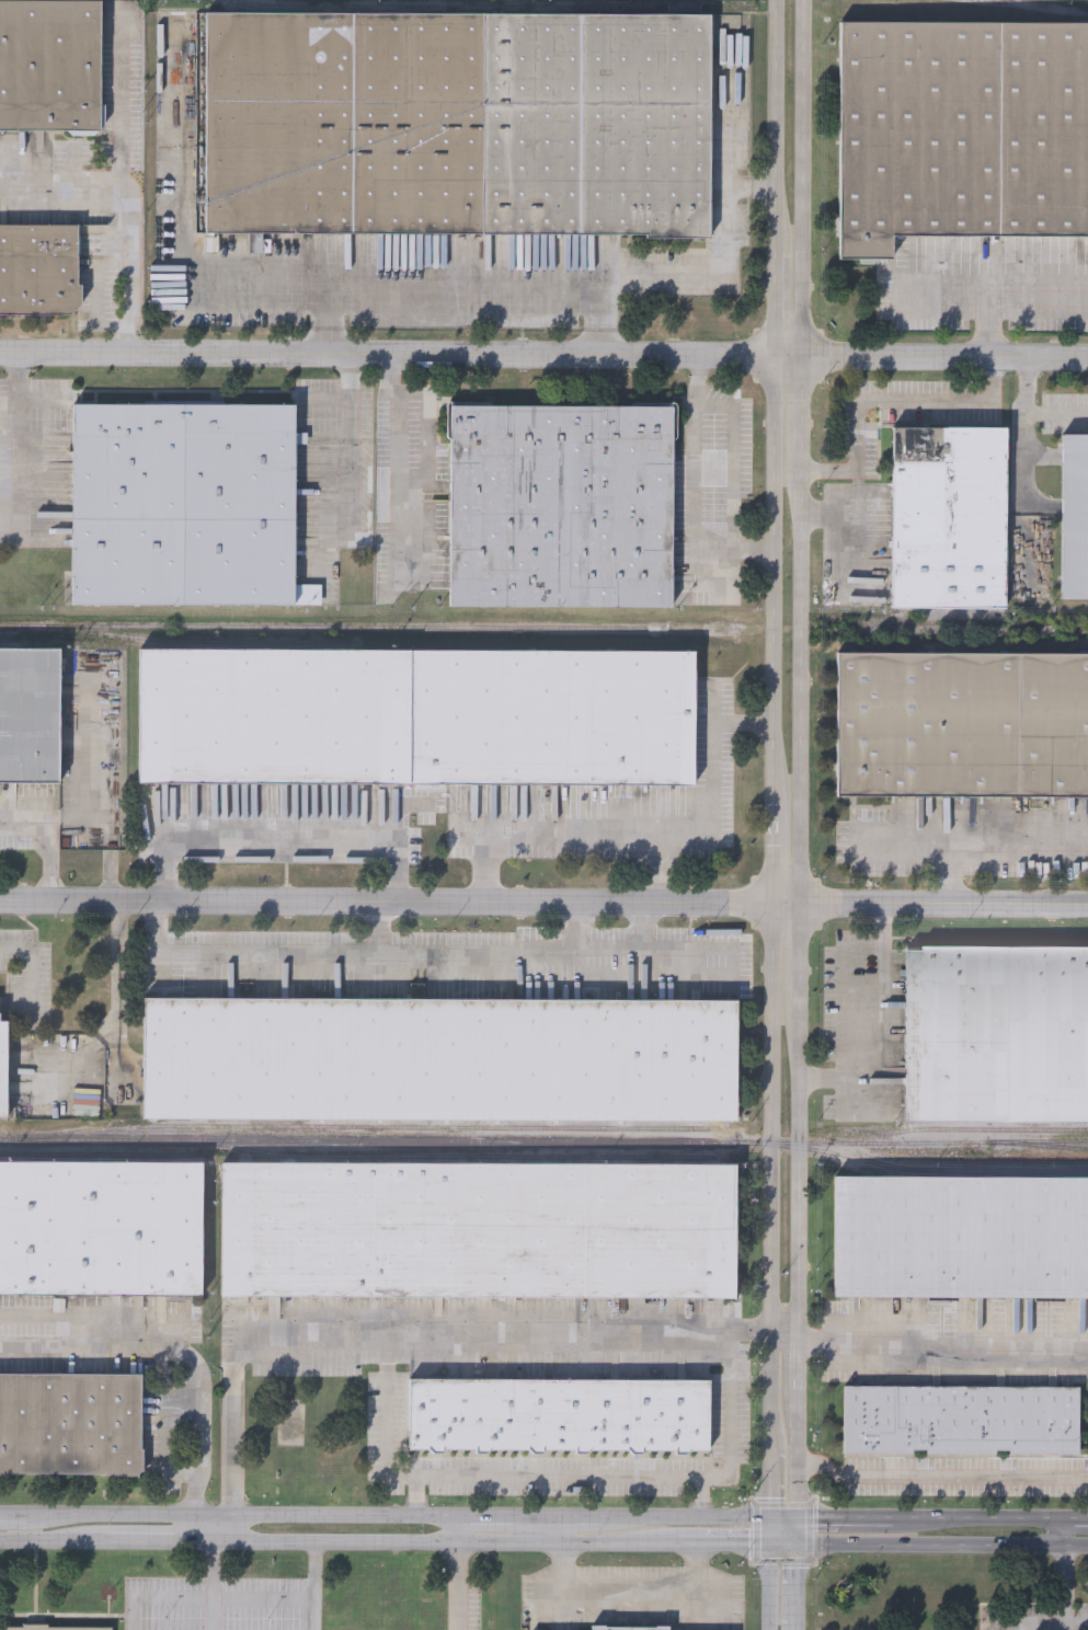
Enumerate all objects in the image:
railway: (485, 7)
railway: (1041, 7)
building: (50, 66)
road: (117, 103)
road: (730, 110)
building: (456, 124)
building: (961, 134)
road: (753, 185)
road: (130, 206)
building: (38, 271)
road: (509, 278)
road: (1011, 296)
road: (327, 315)
road: (604, 315)
road: (543, 355)
road: (886, 400)
road: (1056, 412)
road: (1024, 427)
road: (20, 441)
road: (347, 448)
road: (400, 451)
road: (697, 485)
building: (184, 505)
building: (561, 507)
road: (845, 507)
building: (947, 517)
building: (1074, 517)
railway: (323, 628)
railway: (16, 640)
railway: (202, 641)
building: (32, 718)
building: (416, 720)
building: (961, 725)
road: (774, 759)
road: (717, 778)
road: (108, 792)
road: (801, 815)
road: (575, 830)
road: (278, 841)
road: (990, 841)
road: (50, 842)
road: (543, 904)
road: (579, 926)
road: (643, 926)
road: (379, 929)
road: (426, 953)
road: (33, 972)
road: (121, 975)
road: (880, 1030)
building: (995, 1035)
building: (439, 1059)
building: (2, 1068)
railway: (394, 1125)
railway: (993, 1128)
railway: (543, 1143)
railway: (1044, 1145)
railway: (100, 1156)
railway: (481, 1157)
railway: (918, 1168)
building: (101, 1232)
building: (479, 1233)
building: (960, 1239)
road: (405, 1327)
road: (784, 1339)
road: (942, 1343)
road: (177, 1347)
road: (387, 1411)
building: (559, 1419)
building: (960, 1421)
building: (70, 1427)
road: (731, 1432)
road: (943, 1471)
road: (541, 1481)
road: (13, 1516)
road: (294, 1517)
road: (593, 1517)
road: (698, 1518)
traffic signals: (769, 1518)
road: (783, 1518)
traffic signals: (799, 1519)
road: (847, 1519)
road: (981, 1519)
road: (1076, 1519)
road: (211, 1529)
road: (54, 1541)
road: (160, 1541)
road: (435, 1543)
road: (728, 1543)
traffic signals: (769, 1545)
road: (942, 1545)
traffic signals: (798, 1546)
road: (458, 1573)
road: (769, 1574)
road: (213, 1585)
road: (317, 1586)
road: (618, 1595)
road: (157, 1596)
road: (264, 1597)
road: (1067, 1607)
road: (1078, 1626)
building: (59, 1629)
building: (630, 1629)

